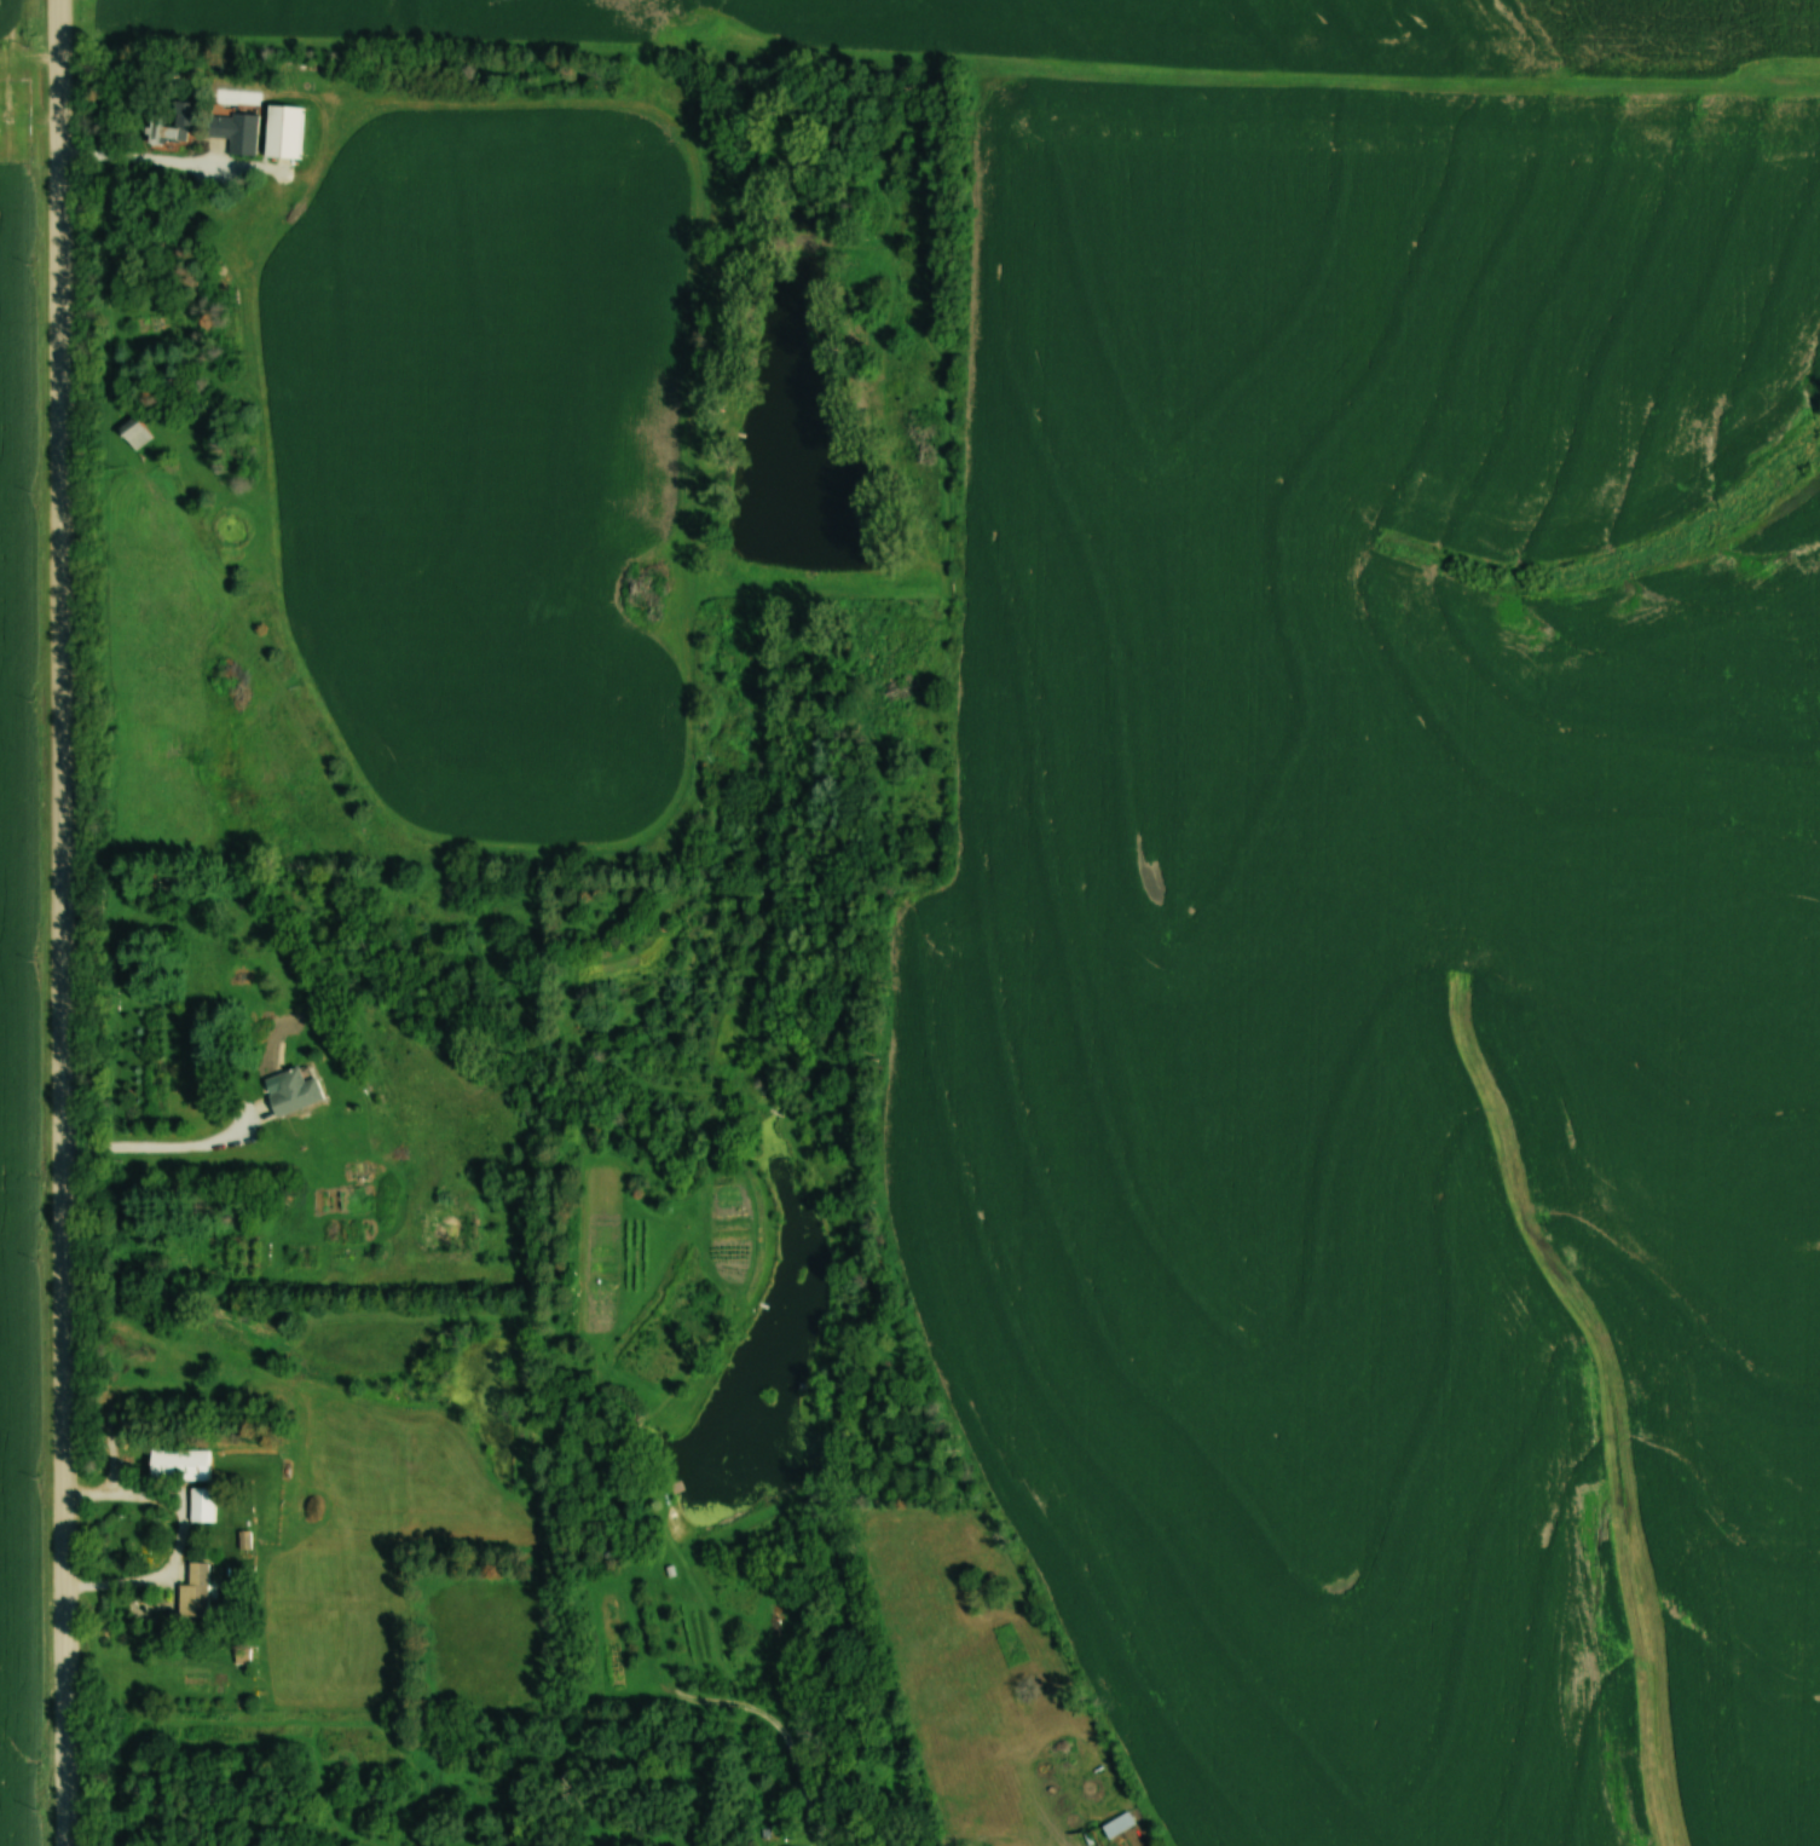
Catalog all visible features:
building: (172, 122)
building: (235, 131)
building: (282, 131)
road: (148, 158)
building: (133, 433)
road: (62, 922)
building: (293, 1092)
road: (164, 1147)
building: (177, 1464)
building: (200, 1505)
road: (181, 1533)
building: (192, 1591)
building: (1116, 1824)

